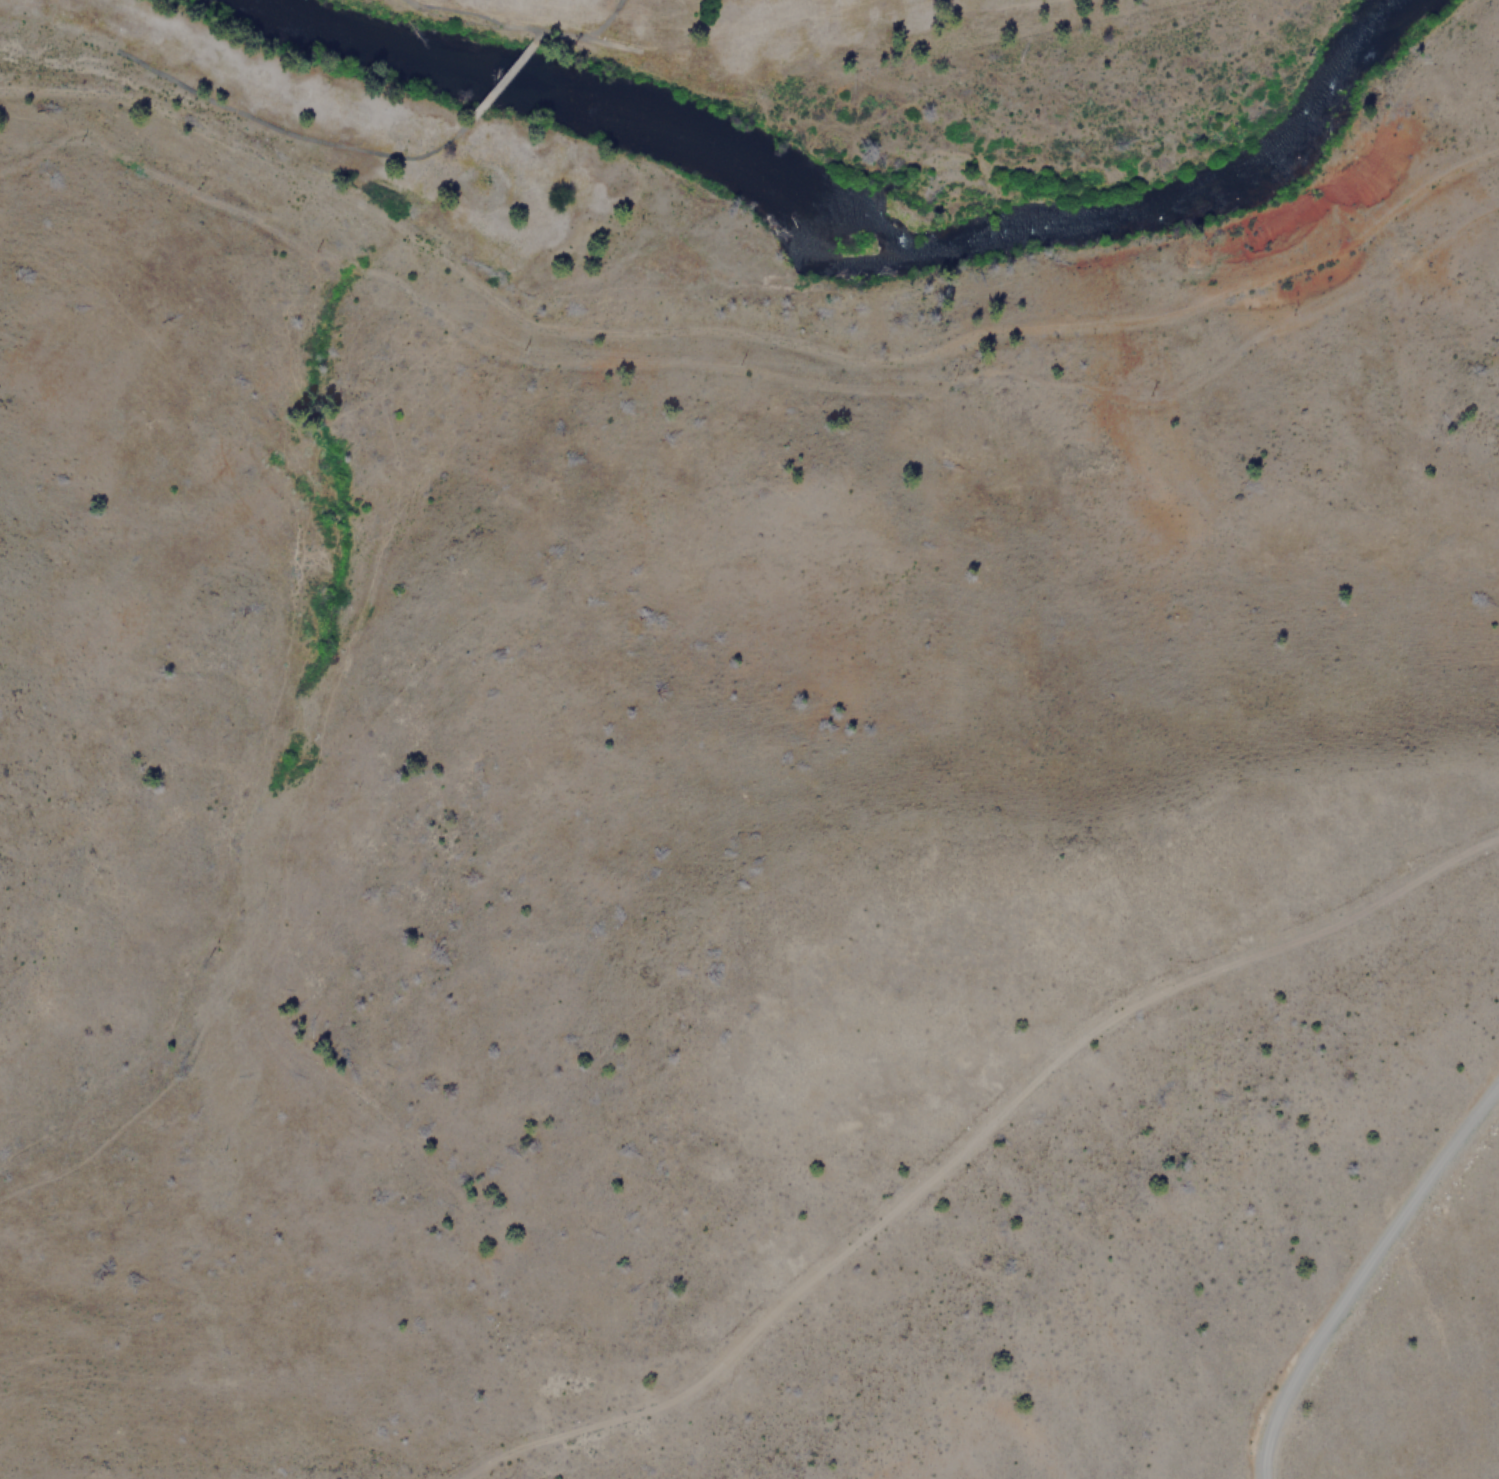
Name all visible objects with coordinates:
park: (488, 87)
river: (857, 225)
road: (747, 333)
road: (1363, 1272)

